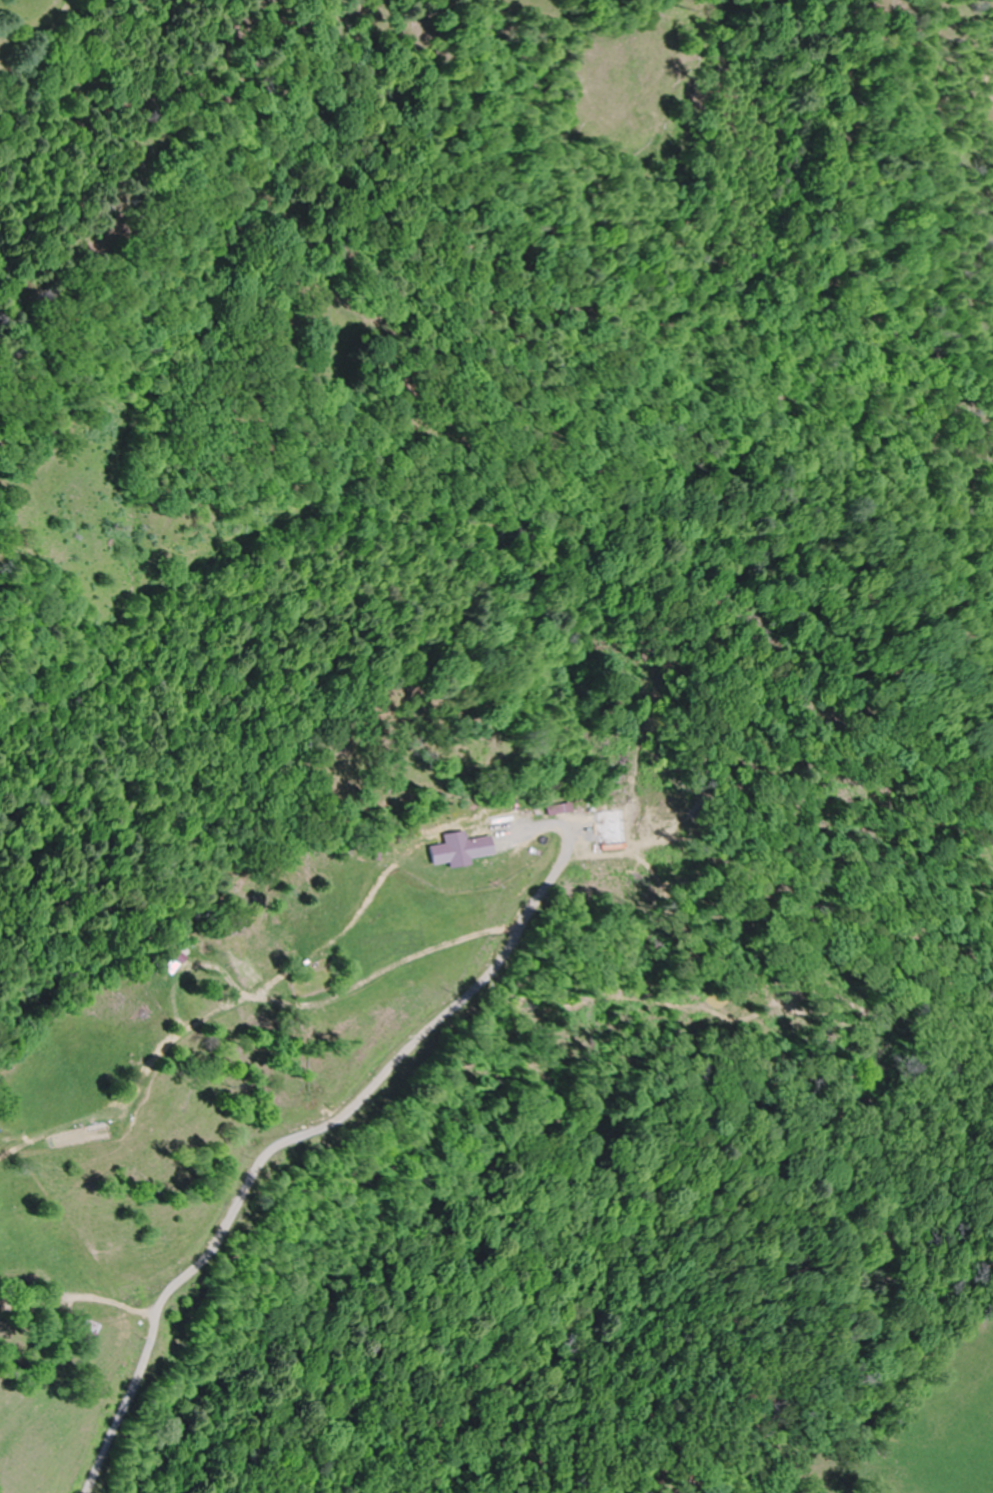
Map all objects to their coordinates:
road: (46, 62)
road: (320, 1126)
road: (106, 1299)

